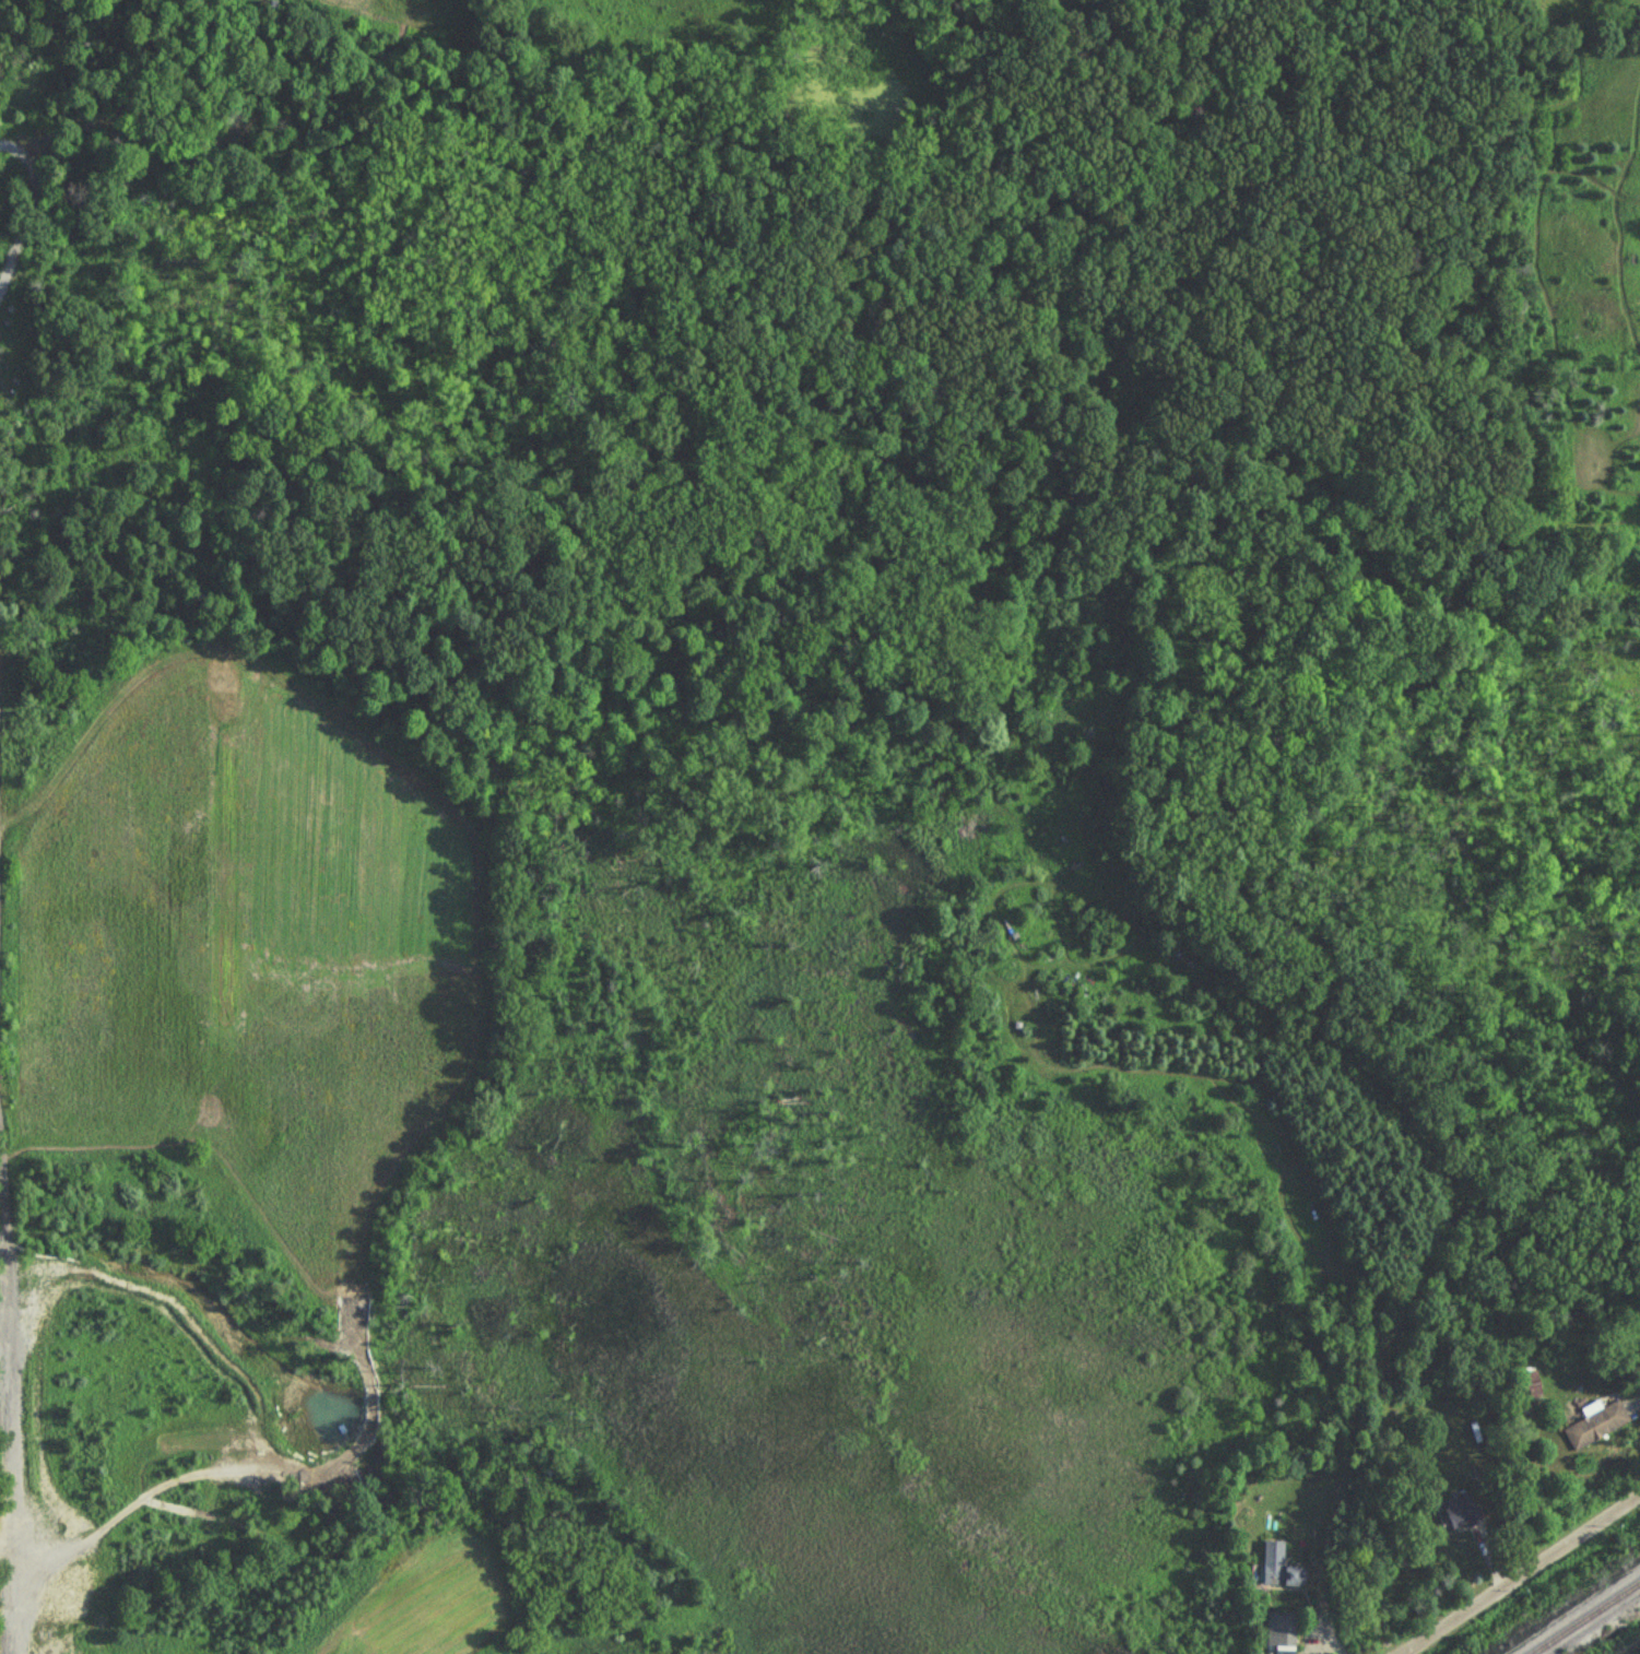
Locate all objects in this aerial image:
road: (19, 202)
crop: (258, 950)
building: (1533, 1386)
building: (1595, 1426)
road: (5, 1444)
building: (1460, 1513)
road: (1519, 1573)
building: (1281, 1575)
crop: (423, 1599)
railway: (1578, 1614)
building: (1283, 1630)

